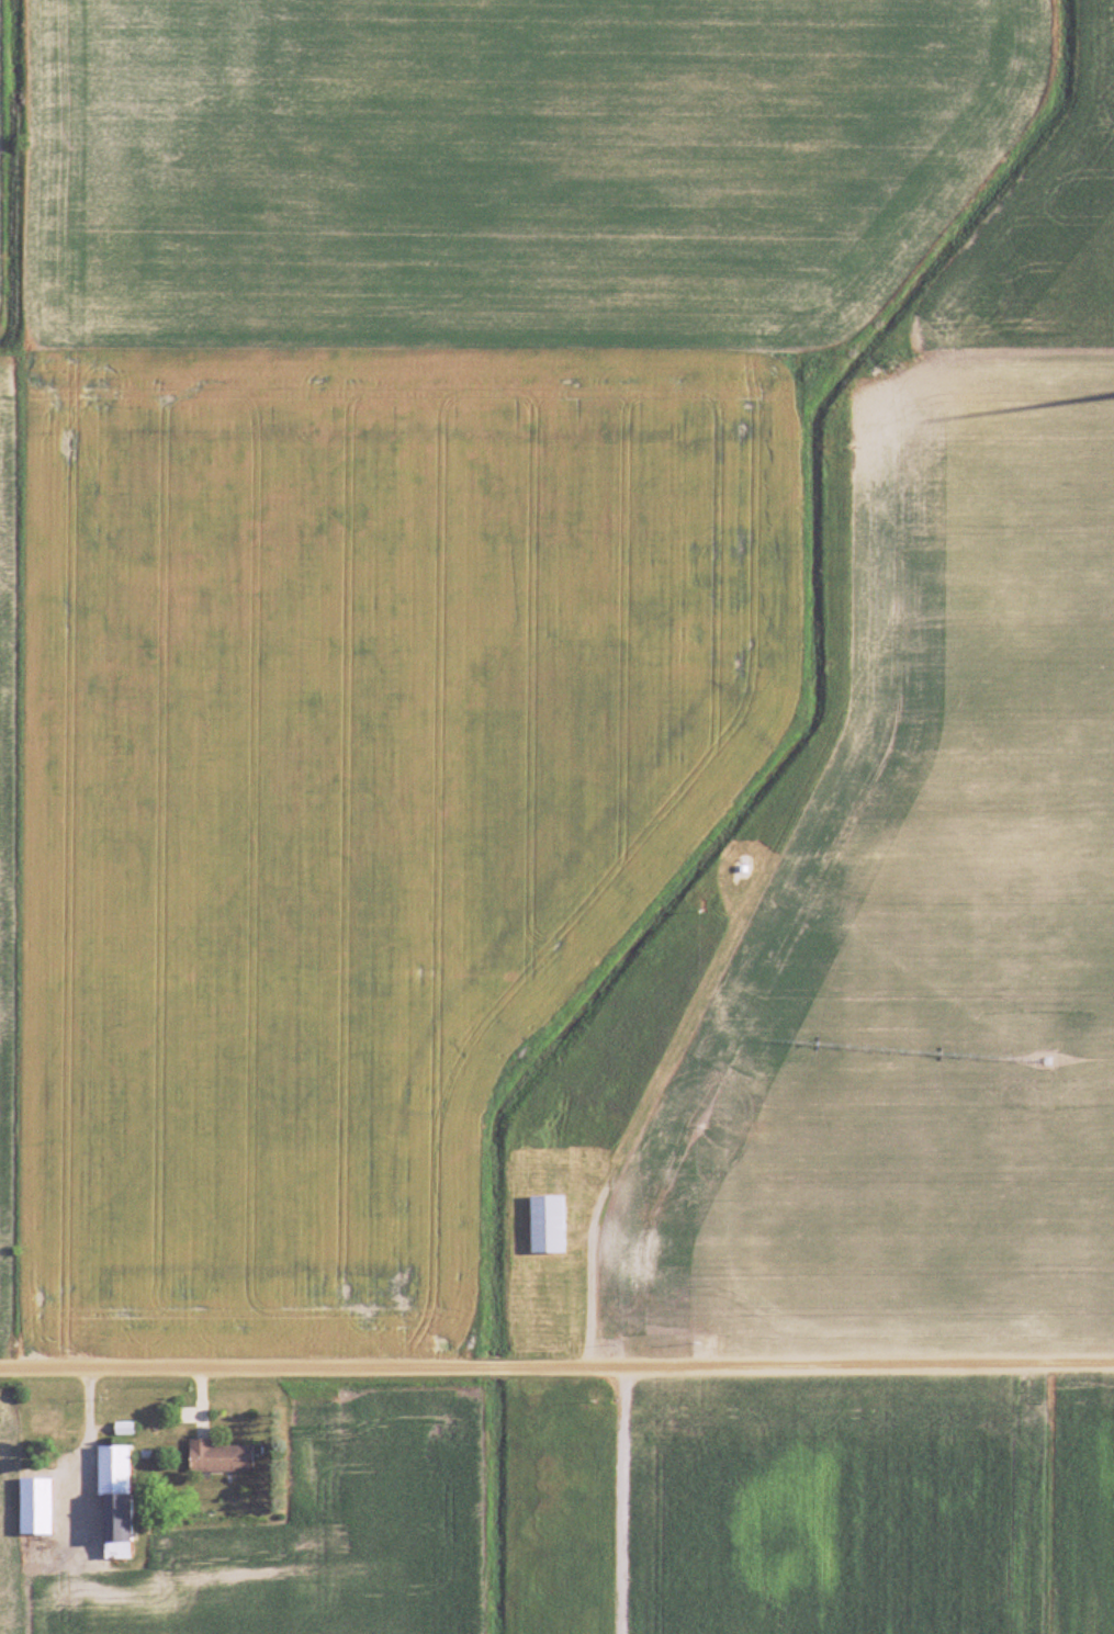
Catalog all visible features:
building: (544, 1225)
building: (641, 1267)
road: (556, 1370)
building: (216, 1456)
road: (617, 1501)
building: (113, 1502)
building: (33, 1506)

